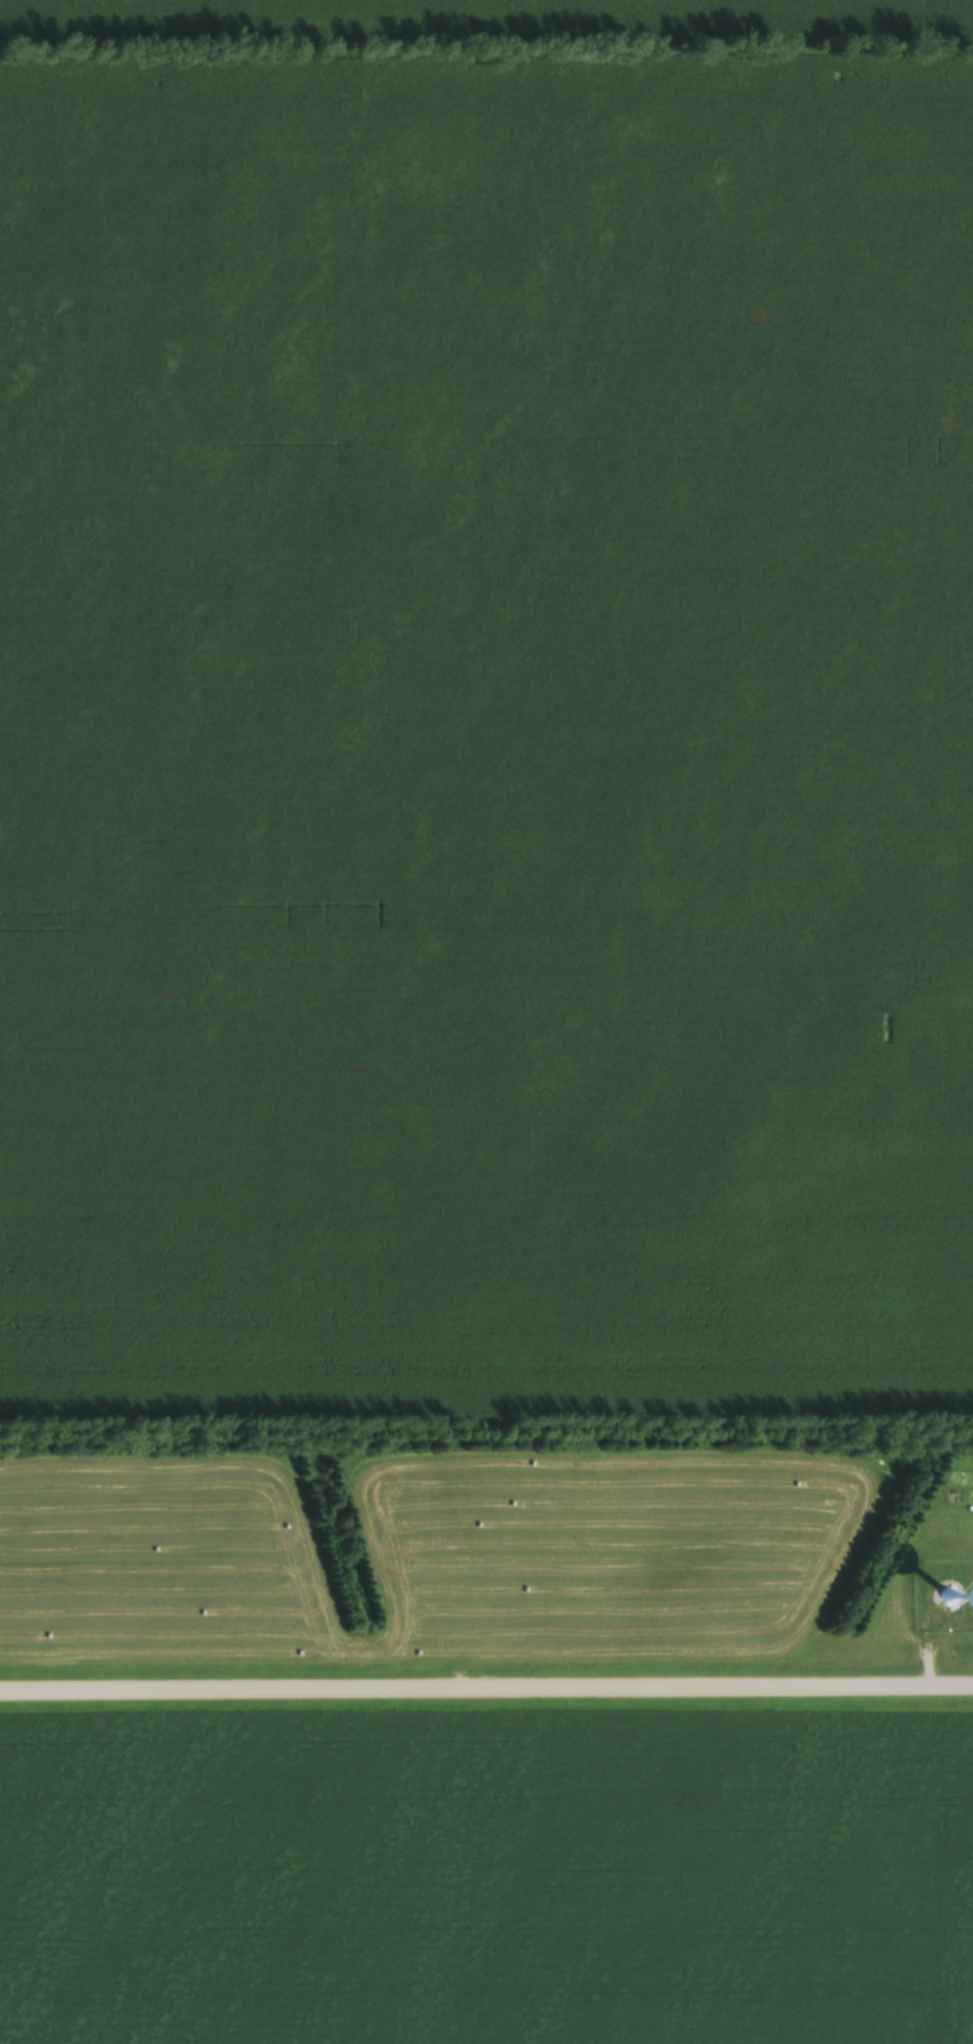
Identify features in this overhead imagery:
water tower: (944, 1569)
building: (951, 1592)
road: (486, 1683)
crop: (487, 1878)

